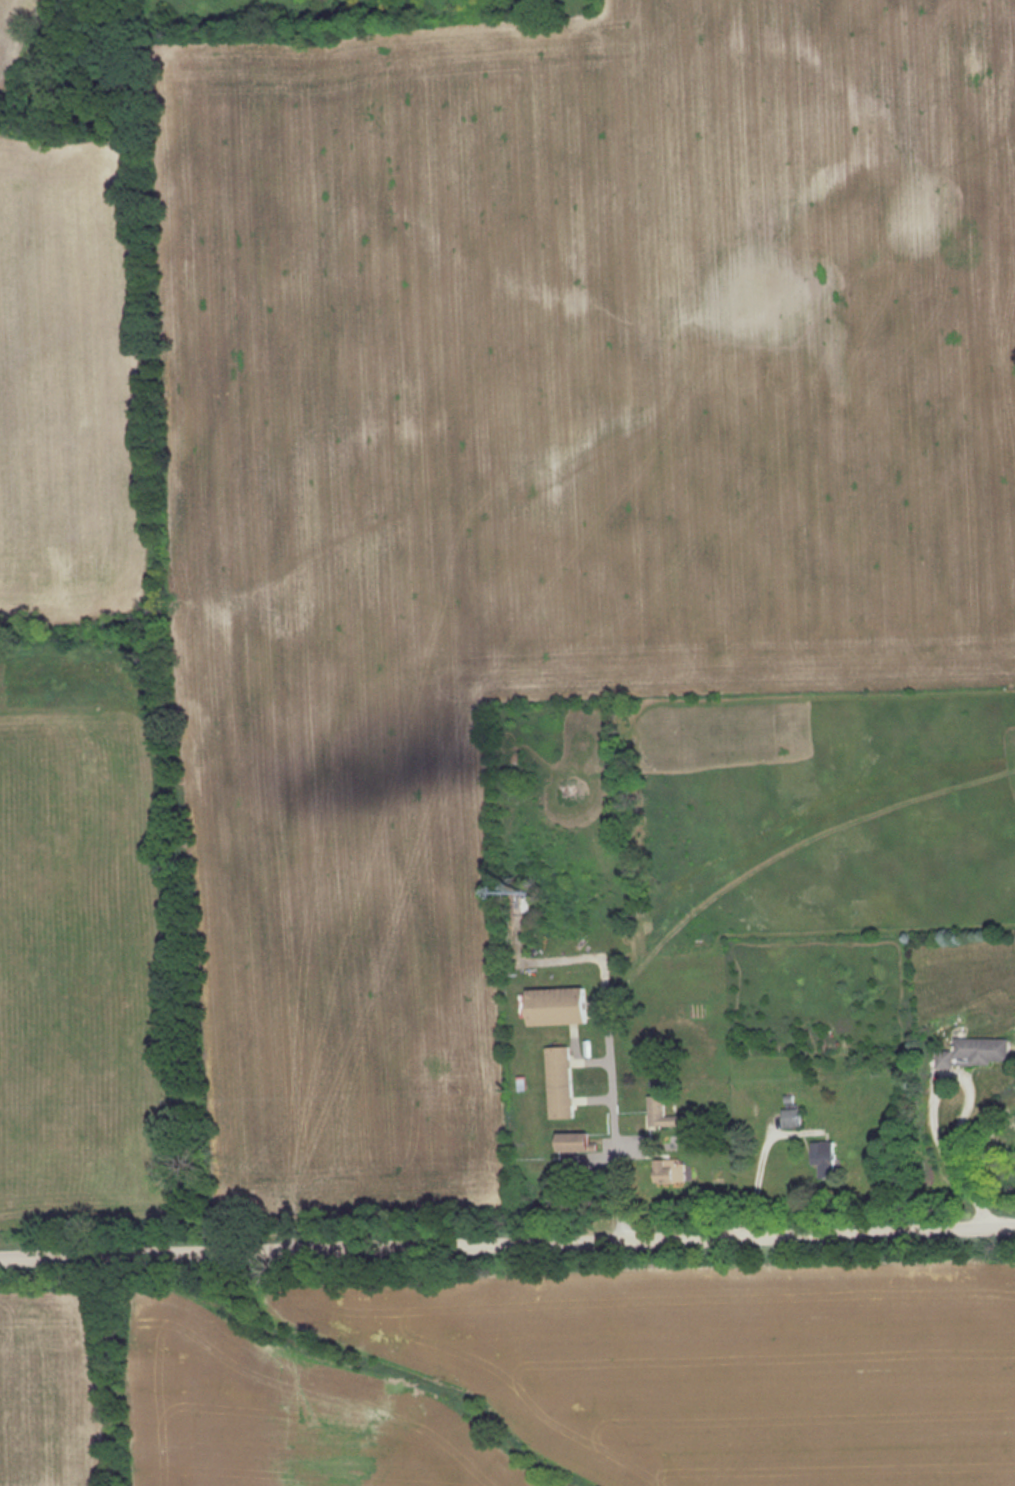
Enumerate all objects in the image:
building: (555, 1006)
road: (605, 1031)
building: (976, 1049)
building: (557, 1082)
road: (931, 1111)
building: (658, 1114)
building: (789, 1117)
building: (571, 1142)
building: (820, 1152)
building: (668, 1170)
road: (758, 1170)
road: (507, 1241)

